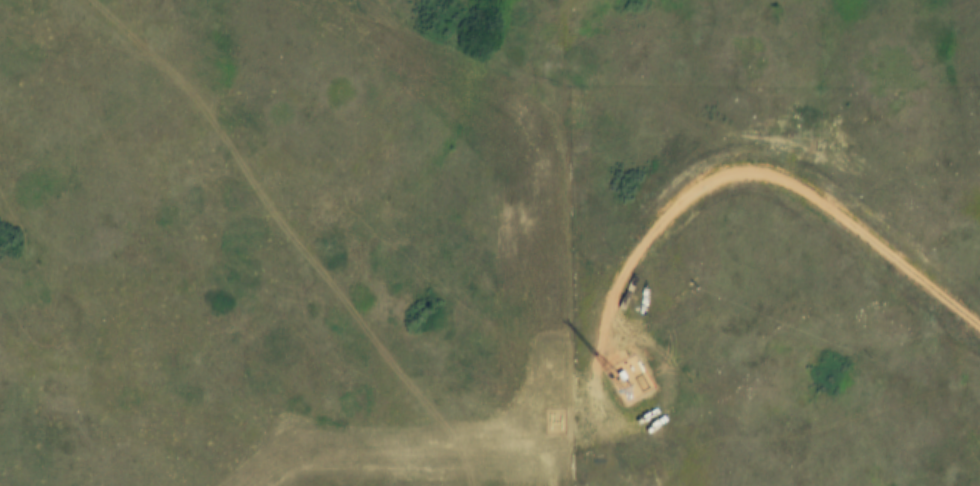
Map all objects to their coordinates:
road: (294, 224)

